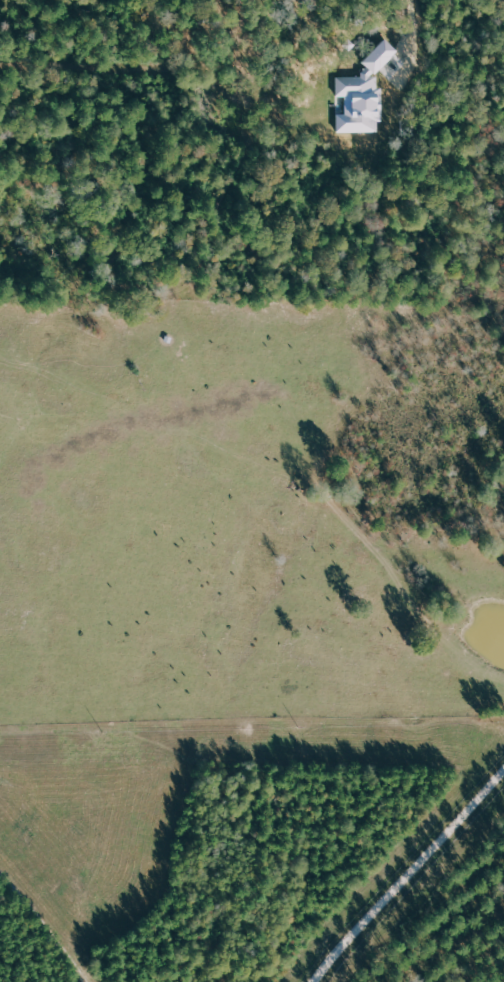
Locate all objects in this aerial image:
building: (362, 95)
road: (412, 872)
road: (45, 924)

